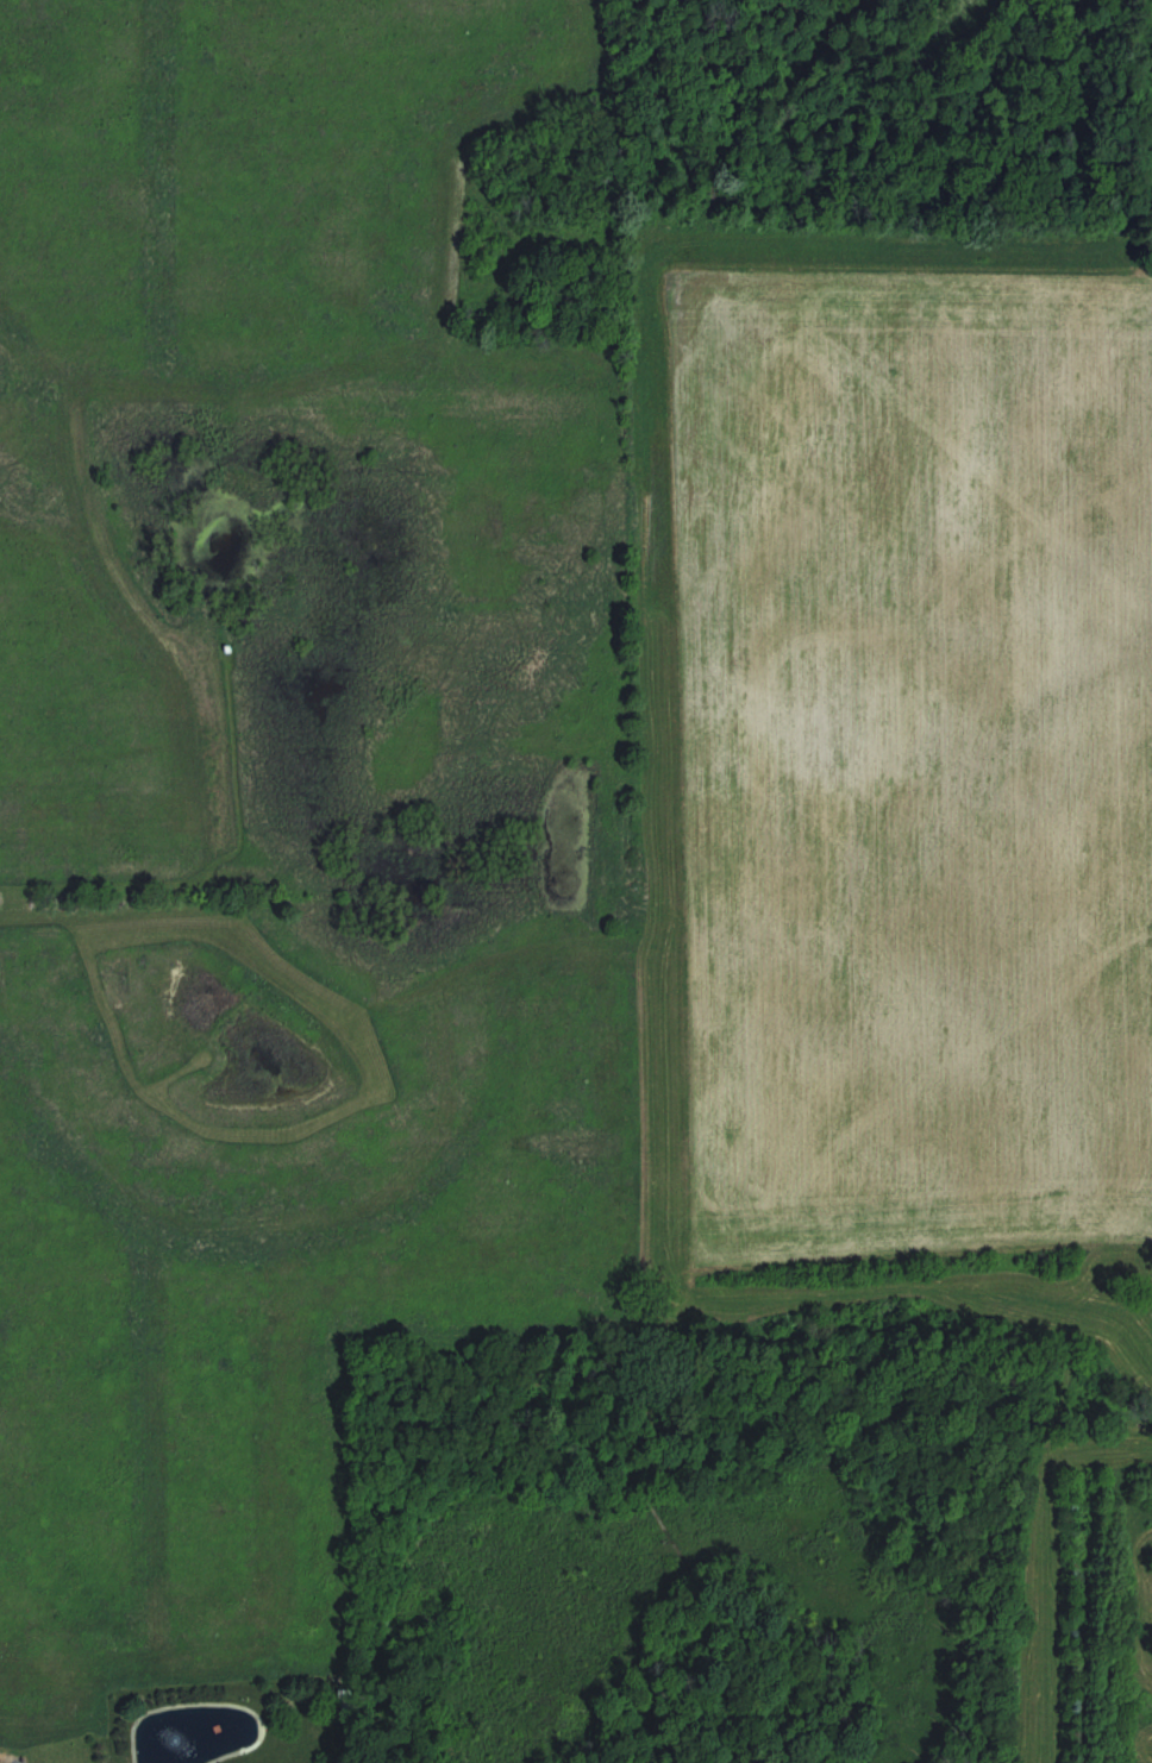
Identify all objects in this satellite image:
building: (236, 1726)

